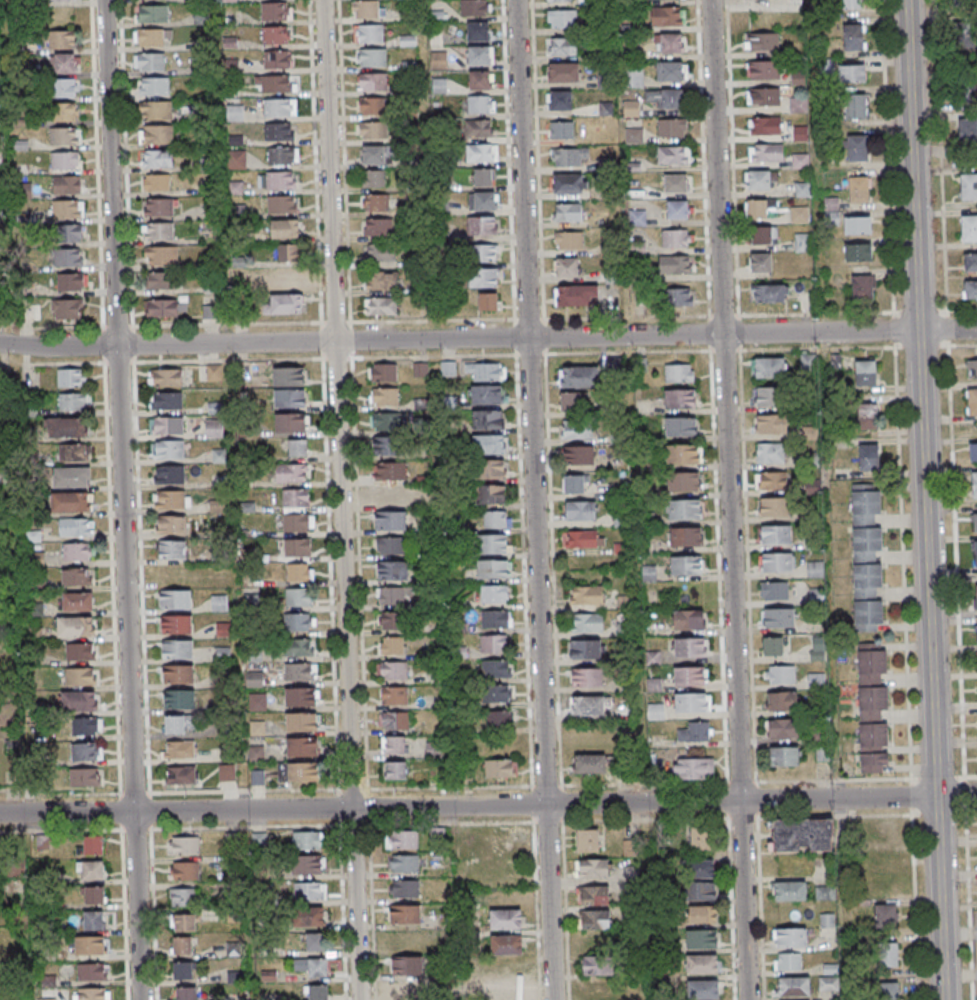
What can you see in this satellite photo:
building: (229, 0)
building: (559, 0)
building: (851, 4)
building: (794, 5)
building: (475, 7)
building: (367, 9)
building: (276, 11)
building: (151, 14)
building: (666, 17)
building: (563, 19)
building: (478, 31)
building: (369, 33)
building: (275, 35)
building: (853, 36)
building: (151, 38)
building: (61, 39)
building: (965, 40)
building: (761, 41)
building: (670, 44)
building: (563, 46)
building: (480, 55)
building: (371, 57)
building: (275, 59)
building: (439, 60)
road: (9, 61)
building: (64, 62)
building: (149, 63)
building: (764, 69)
building: (671, 71)
building: (563, 72)
building: (853, 72)
building: (634, 77)
building: (481, 79)
building: (373, 81)
building: (273, 83)
building: (65, 87)
building: (154, 87)
building: (965, 88)
building: (764, 96)
building: (665, 99)
building: (559, 100)
building: (480, 104)
building: (372, 106)
building: (856, 106)
building: (279, 107)
building: (632, 109)
building: (156, 110)
building: (65, 112)
building: (765, 126)
building: (967, 128)
building: (478, 129)
building: (672, 129)
building: (373, 130)
building: (561, 130)
building: (279, 131)
building: (157, 134)
building: (800, 134)
building: (65, 136)
building: (633, 136)
building: (857, 148)
building: (766, 153)
building: (481, 154)
building: (376, 155)
building: (282, 156)
building: (673, 156)
building: (568, 157)
building: (157, 158)
building: (66, 160)
building: (799, 161)
road: (816, 166)
road: (430, 170)
road: (945, 173)
road: (889, 174)
building: (483, 178)
building: (277, 180)
building: (374, 180)
building: (759, 180)
building: (156, 183)
building: (675, 183)
building: (67, 184)
building: (569, 184)
building: (968, 186)
building: (857, 189)
building: (802, 190)
building: (482, 202)
building: (376, 203)
building: (282, 205)
building: (158, 208)
building: (68, 209)
building: (756, 209)
building: (677, 210)
building: (567, 213)
building: (799, 214)
building: (639, 219)
building: (857, 226)
building: (378, 227)
building: (482, 227)
building: (969, 228)
building: (285, 230)
building: (70, 233)
building: (159, 233)
building: (762, 236)
building: (675, 239)
building: (569, 241)
building: (802, 243)
building: (858, 252)
building: (379, 253)
building: (484, 253)
building: (288, 254)
building: (161, 257)
building: (68, 258)
building: (760, 262)
building: (970, 262)
building: (674, 264)
building: (566, 267)
building: (285, 278)
building: (483, 278)
building: (381, 280)
building: (160, 281)
building: (70, 283)
building: (862, 286)
building: (970, 289)
building: (771, 294)
building: (577, 296)
building: (678, 296)
building: (487, 302)
building: (283, 304)
building: (381, 305)
building: (161, 309)
building: (65, 310)
building: (29, 313)
road: (899, 330)
road: (411, 340)
road: (914, 347)
building: (807, 362)
building: (770, 367)
building: (448, 368)
building: (971, 368)
building: (421, 370)
building: (383, 372)
building: (485, 372)
building: (679, 372)
building: (865, 372)
building: (214, 373)
building: (289, 376)
building: (71, 377)
building: (579, 377)
building: (165, 378)
building: (486, 394)
building: (385, 396)
building: (767, 396)
building: (290, 398)
building: (680, 398)
building: (73, 401)
building: (166, 401)
building: (570, 401)
building: (972, 401)
building: (867, 415)
building: (487, 419)
building: (385, 421)
building: (290, 422)
building: (771, 424)
building: (166, 426)
building: (680, 426)
building: (65, 427)
building: (214, 429)
building: (577, 430)
building: (488, 444)
road: (715, 445)
building: (386, 446)
building: (298, 447)
building: (168, 450)
building: (974, 451)
building: (74, 452)
building: (681, 454)
building: (770, 454)
building: (578, 455)
building: (869, 457)
building: (493, 468)
building: (389, 470)
building: (291, 473)
building: (168, 475)
building: (71, 477)
building: (772, 481)
building: (682, 482)
building: (574, 484)
building: (974, 485)
building: (490, 494)
building: (390, 495)
road: (125, 499)
building: (172, 499)
building: (295, 499)
road: (340, 500)
road: (535, 500)
road: (731, 500)
road: (928, 500)
building: (70, 502)
building: (774, 507)
building: (580, 510)
building: (683, 510)
building: (496, 519)
building: (390, 520)
building: (974, 521)
building: (170, 524)
building: (298, 524)
building: (76, 527)
building: (776, 535)
building: (685, 538)
building: (581, 539)
building: (493, 543)
building: (390, 545)
building: (297, 548)
building: (172, 549)
building: (76, 552)
building: (975, 553)
building: (867, 557)
building: (777, 562)
building: (686, 565)
building: (493, 568)
building: (815, 569)
building: (393, 571)
building: (298, 573)
building: (77, 578)
building: (774, 590)
building: (494, 594)
building: (586, 594)
building: (393, 595)
building: (975, 596)
building: (298, 597)
building: (175, 598)
building: (219, 602)
building: (78, 603)
building: (779, 617)
building: (688, 619)
building: (391, 620)
building: (495, 620)
building: (299, 622)
building: (587, 622)
building: (176, 624)
building: (75, 628)
building: (976, 633)
building: (494, 644)
building: (392, 645)
building: (689, 646)
building: (773, 646)
building: (299, 647)
building: (818, 647)
building: (585, 649)
building: (177, 650)
building: (79, 653)
building: (499, 669)
building: (392, 670)
building: (300, 671)
building: (178, 674)
building: (779, 674)
building: (689, 676)
building: (80, 677)
building: (587, 677)
building: (496, 693)
building: (395, 695)
building: (300, 696)
building: (178, 699)
building: (782, 700)
building: (79, 701)
building: (257, 701)
building: (691, 703)
building: (588, 706)
building: (872, 709)
building: (655, 711)
building: (498, 719)
building: (394, 720)
building: (301, 722)
building: (178, 724)
building: (87, 725)
building: (782, 728)
building: (695, 732)
building: (394, 745)
building: (302, 747)
building: (181, 749)
building: (433, 749)
building: (86, 751)
building: (255, 754)
building: (784, 757)
building: (590, 765)
building: (500, 768)
building: (395, 770)
building: (695, 770)
building: (227, 772)
building: (300, 772)
building: (181, 774)
building: (87, 777)
building: (465, 777)
road: (549, 786)
road: (966, 790)
road: (908, 798)
road: (420, 807)
building: (878, 831)
building: (804, 835)
building: (701, 839)
building: (232, 840)
building: (259, 840)
building: (307, 840)
building: (588, 840)
building: (43, 841)
building: (401, 841)
building: (93, 844)
building: (183, 845)
building: (404, 864)
building: (307, 865)
building: (17, 867)
building: (593, 868)
building: (701, 869)
building: (92, 870)
building: (185, 870)
building: (405, 888)
building: (310, 891)
building: (702, 891)
road: (761, 891)
building: (790, 891)
building: (825, 892)
building: (94, 894)
building: (594, 894)
building: (183, 896)
road: (843, 899)
road: (916, 899)
road: (968, 900)
building: (405, 914)
building: (702, 915)
building: (311, 917)
building: (885, 918)
building: (510, 919)
building: (595, 919)
building: (93, 920)
building: (185, 922)
building: (789, 937)
building: (701, 940)
building: (313, 943)
building: (506, 944)
building: (89, 945)
building: (182, 945)
building: (887, 955)
building: (787, 962)
building: (702, 964)
building: (597, 965)
building: (407, 966)
building: (310, 968)
building: (505, 970)
building: (183, 971)
building: (91, 972)
building: (792, 986)
building: (709, 990)
building: (407, 991)
building: (318, 992)
building: (513, 992)
building: (891, 992)
building: (186, 993)
building: (93, 994)

